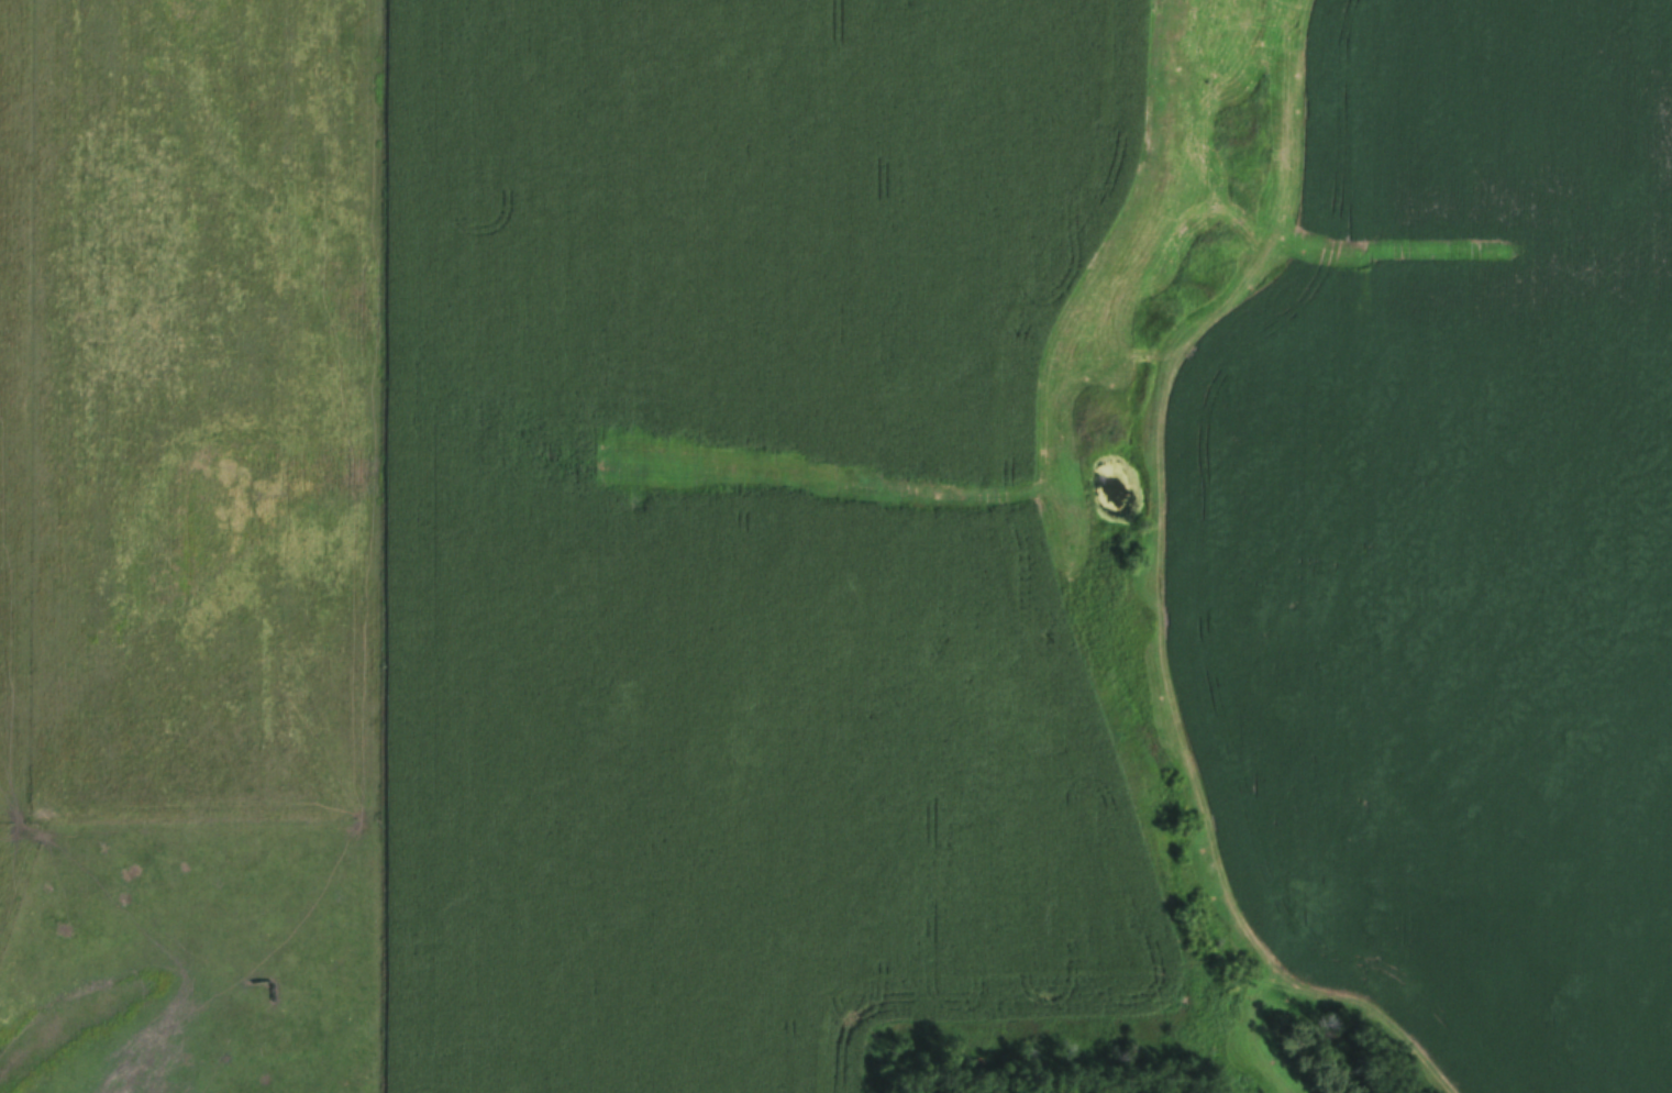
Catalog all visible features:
building: (262, 994)

